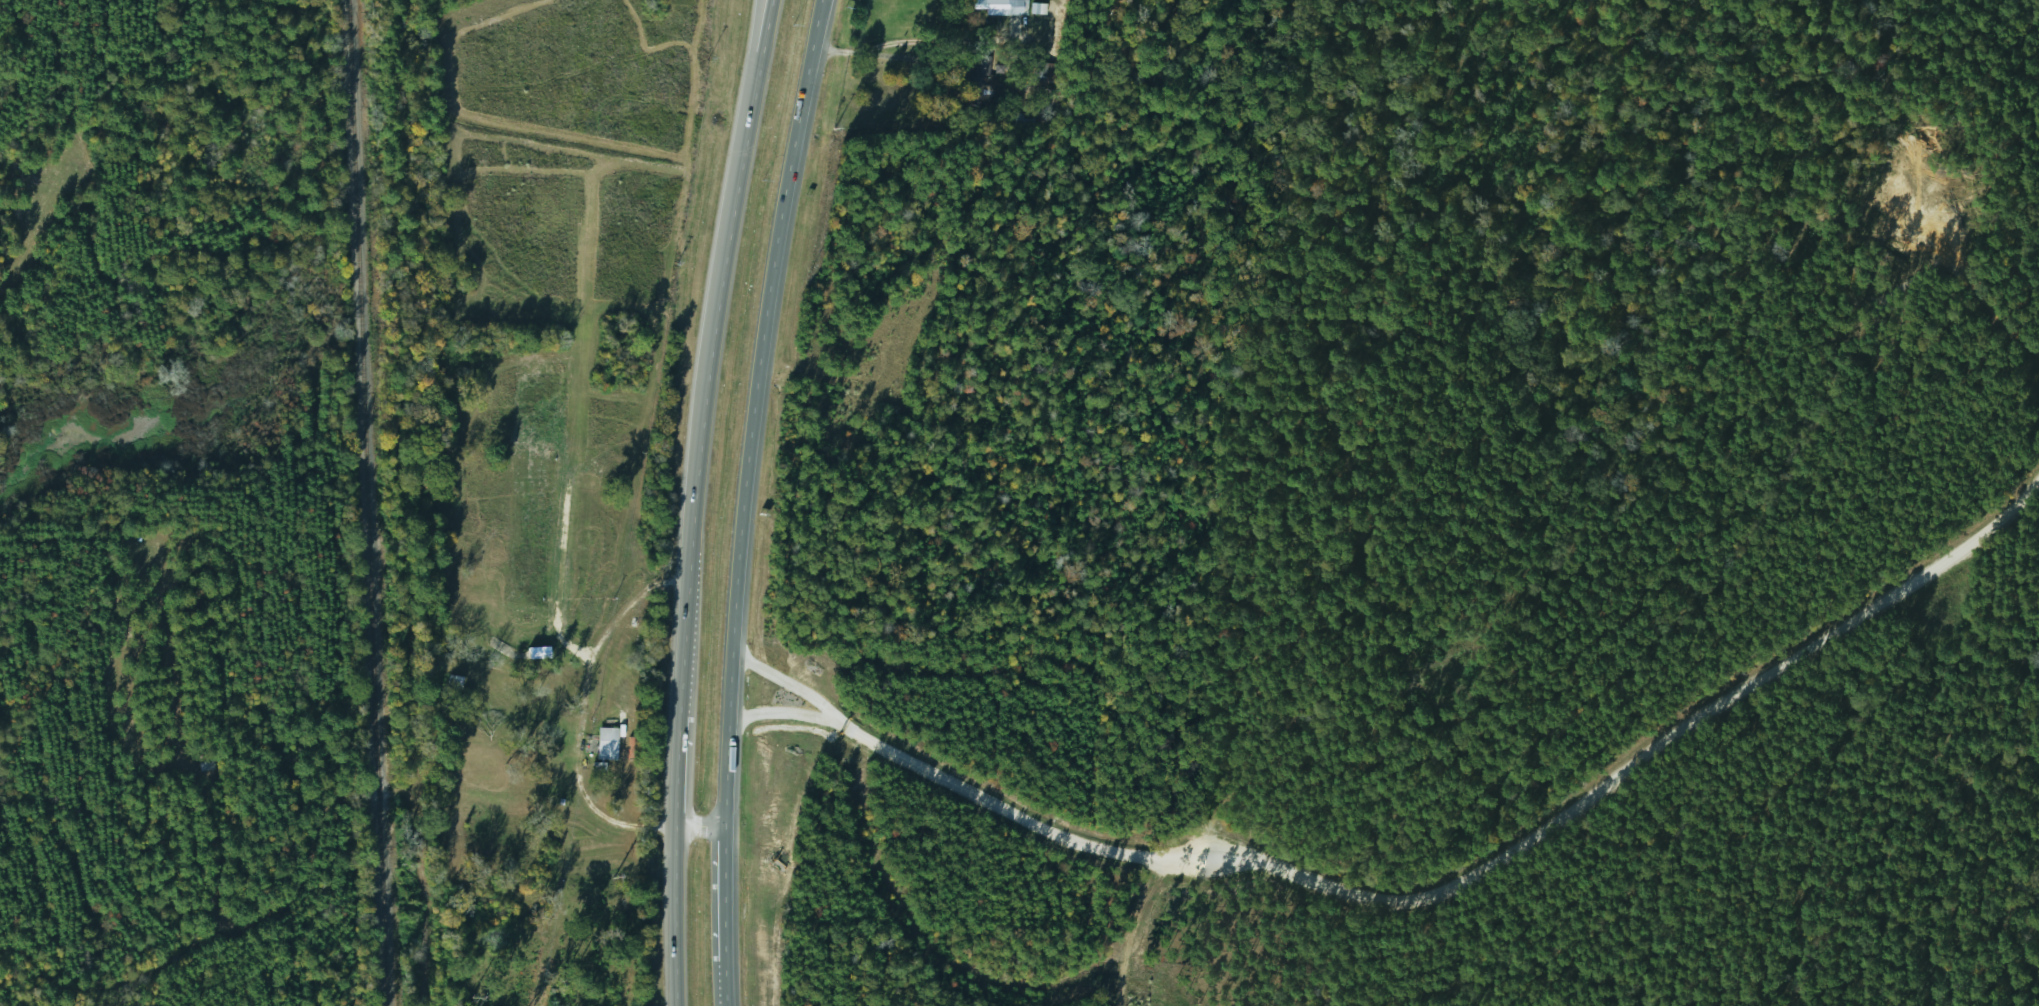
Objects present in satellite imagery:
building: (994, 6)
building: (1036, 9)
road: (747, 64)
building: (1038, 71)
building: (979, 82)
road: (695, 499)
road: (741, 500)
railway: (366, 502)
building: (450, 682)
road: (788, 682)
road: (782, 711)
building: (603, 744)
road: (617, 821)
road: (702, 828)
road: (1479, 868)

